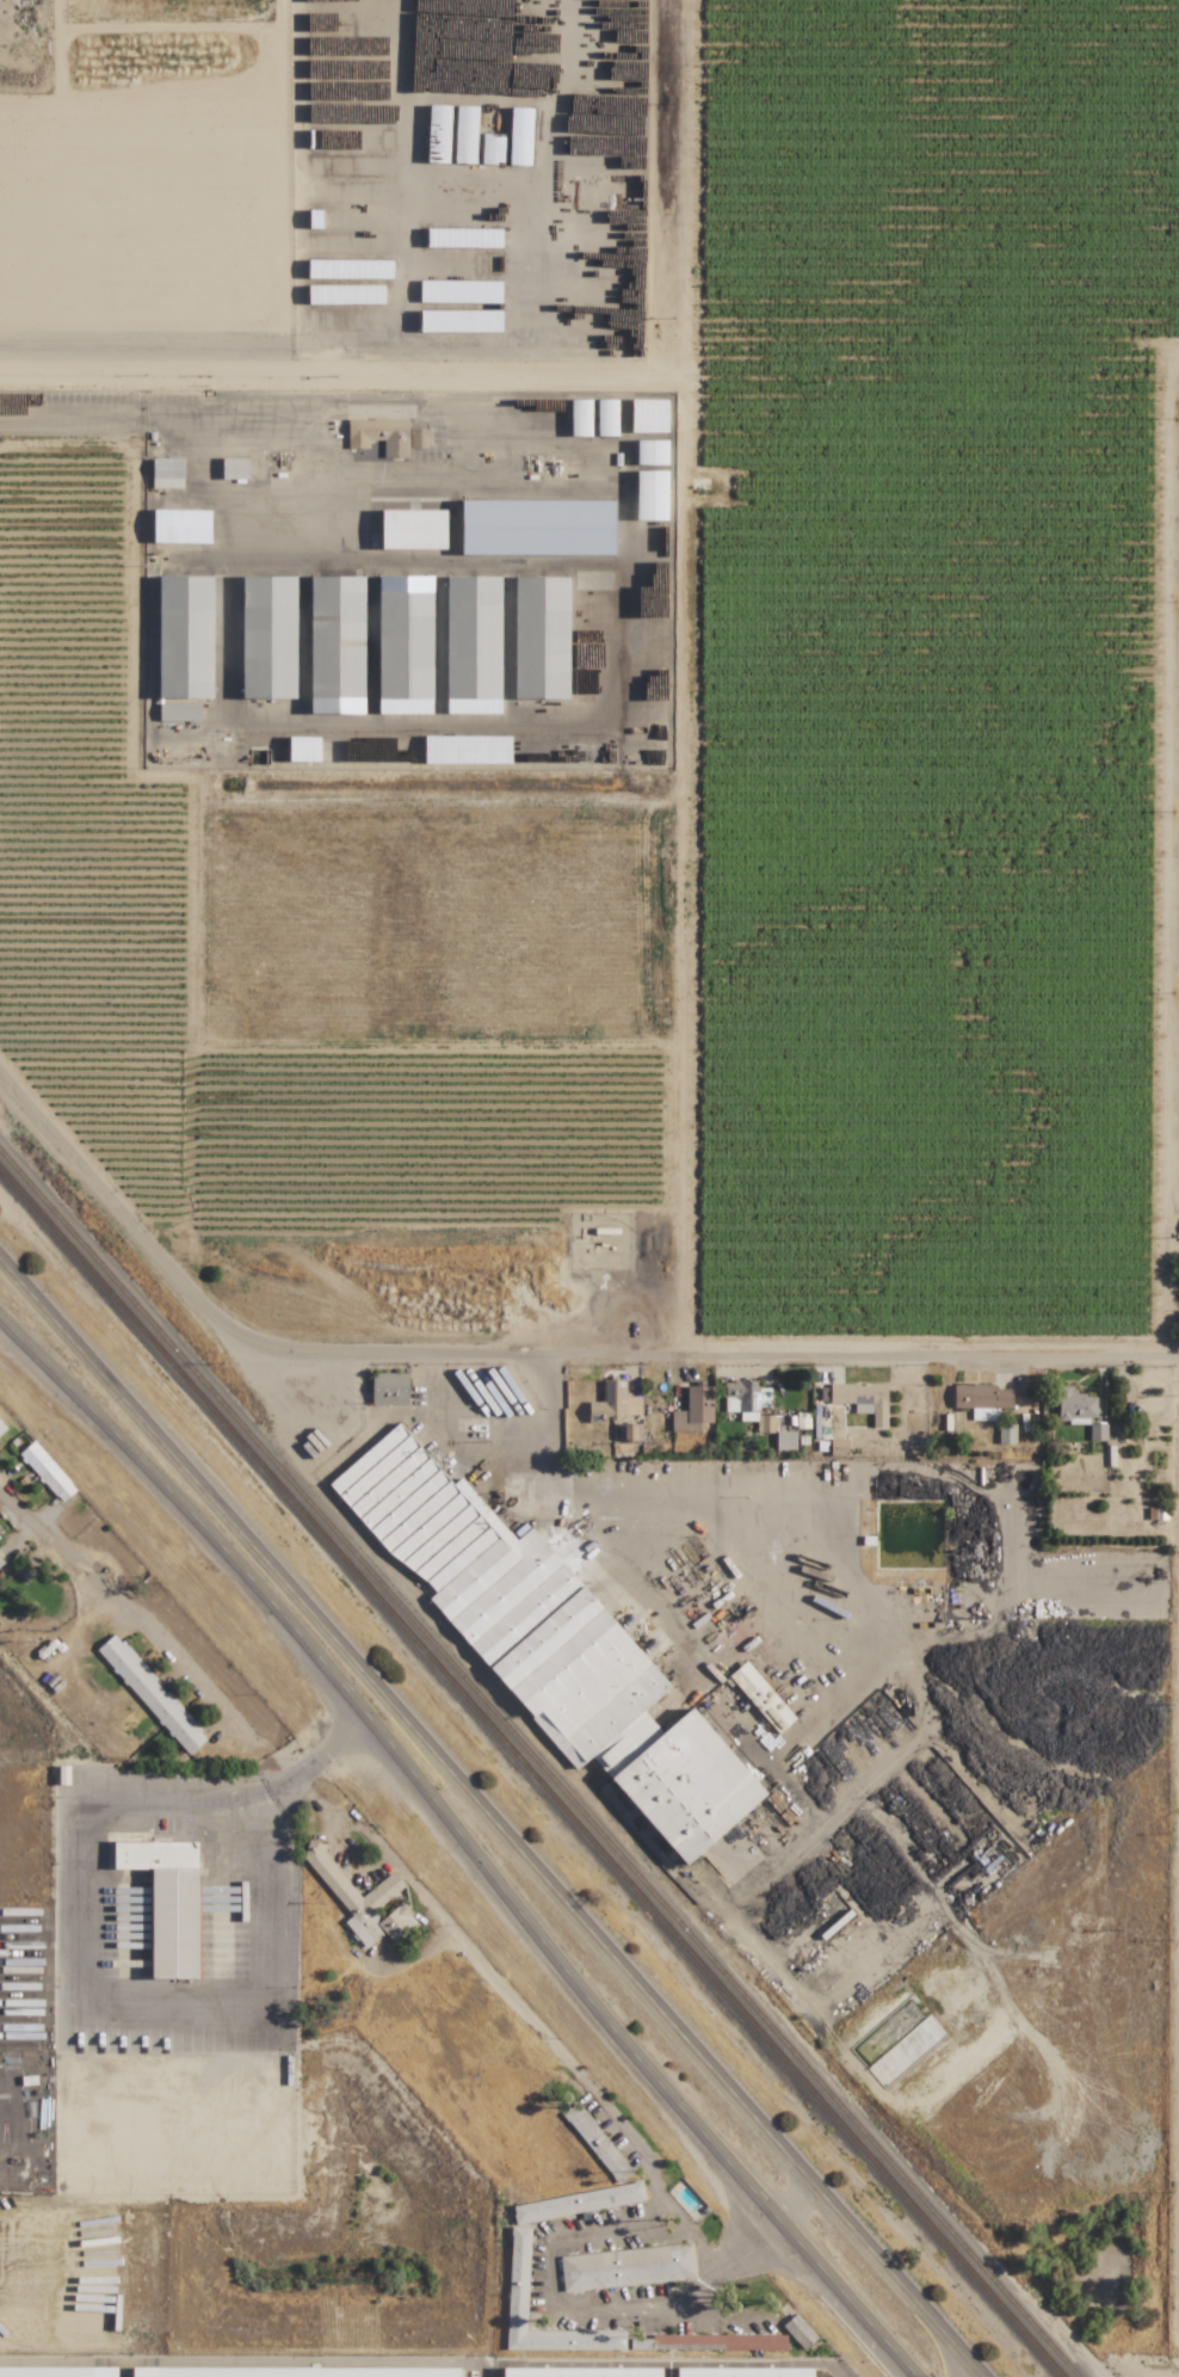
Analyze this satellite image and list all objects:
building: (519, 136)
building: (492, 148)
building: (360, 165)
building: (328, 192)
building: (316, 242)
building: (348, 269)
building: (459, 290)
building: (347, 294)
building: (320, 319)
building: (459, 320)
road: (233, 345)
building: (550, 414)
building: (648, 414)
road: (103, 423)
building: (379, 435)
building: (418, 438)
building: (650, 451)
building: (234, 467)
building: (166, 473)
building: (650, 494)
building: (180, 525)
building: (536, 526)
building: (412, 528)
building: (186, 636)
building: (271, 636)
building: (538, 636)
building: (335, 643)
building: (401, 645)
building: (470, 645)
road: (615, 697)
building: (179, 712)
building: (303, 749)
building: (465, 749)
road: (1165, 848)
road: (124, 1221)
road: (721, 1347)
building: (388, 1388)
building: (745, 1398)
building: (981, 1399)
building: (1074, 1406)
building: (616, 1409)
building: (693, 1410)
building: (766, 1423)
building: (1, 1427)
building: (1097, 1431)
building: (1006, 1433)
building: (784, 1440)
building: (837, 1446)
building: (47, 1471)
building: (0, 1563)
road: (123, 1605)
road: (851, 1614)
building: (547, 1643)
building: (150, 1693)
building: (760, 1696)
railway: (538, 1765)
railway: (530, 1773)
building: (62, 1774)
road: (490, 1819)
road: (463, 1841)
building: (167, 1901)
building: (360, 1901)
road: (80, 1945)
road: (494, 1984)
road: (1177, 2086)
building: (597, 2142)
building: (576, 2202)
building: (626, 2267)
building: (517, 2278)
road: (579, 2314)
building: (798, 2330)
road: (662, 2364)
building: (57, 2371)
building: (295, 2371)
building: (580, 2372)
building: (745, 2372)

